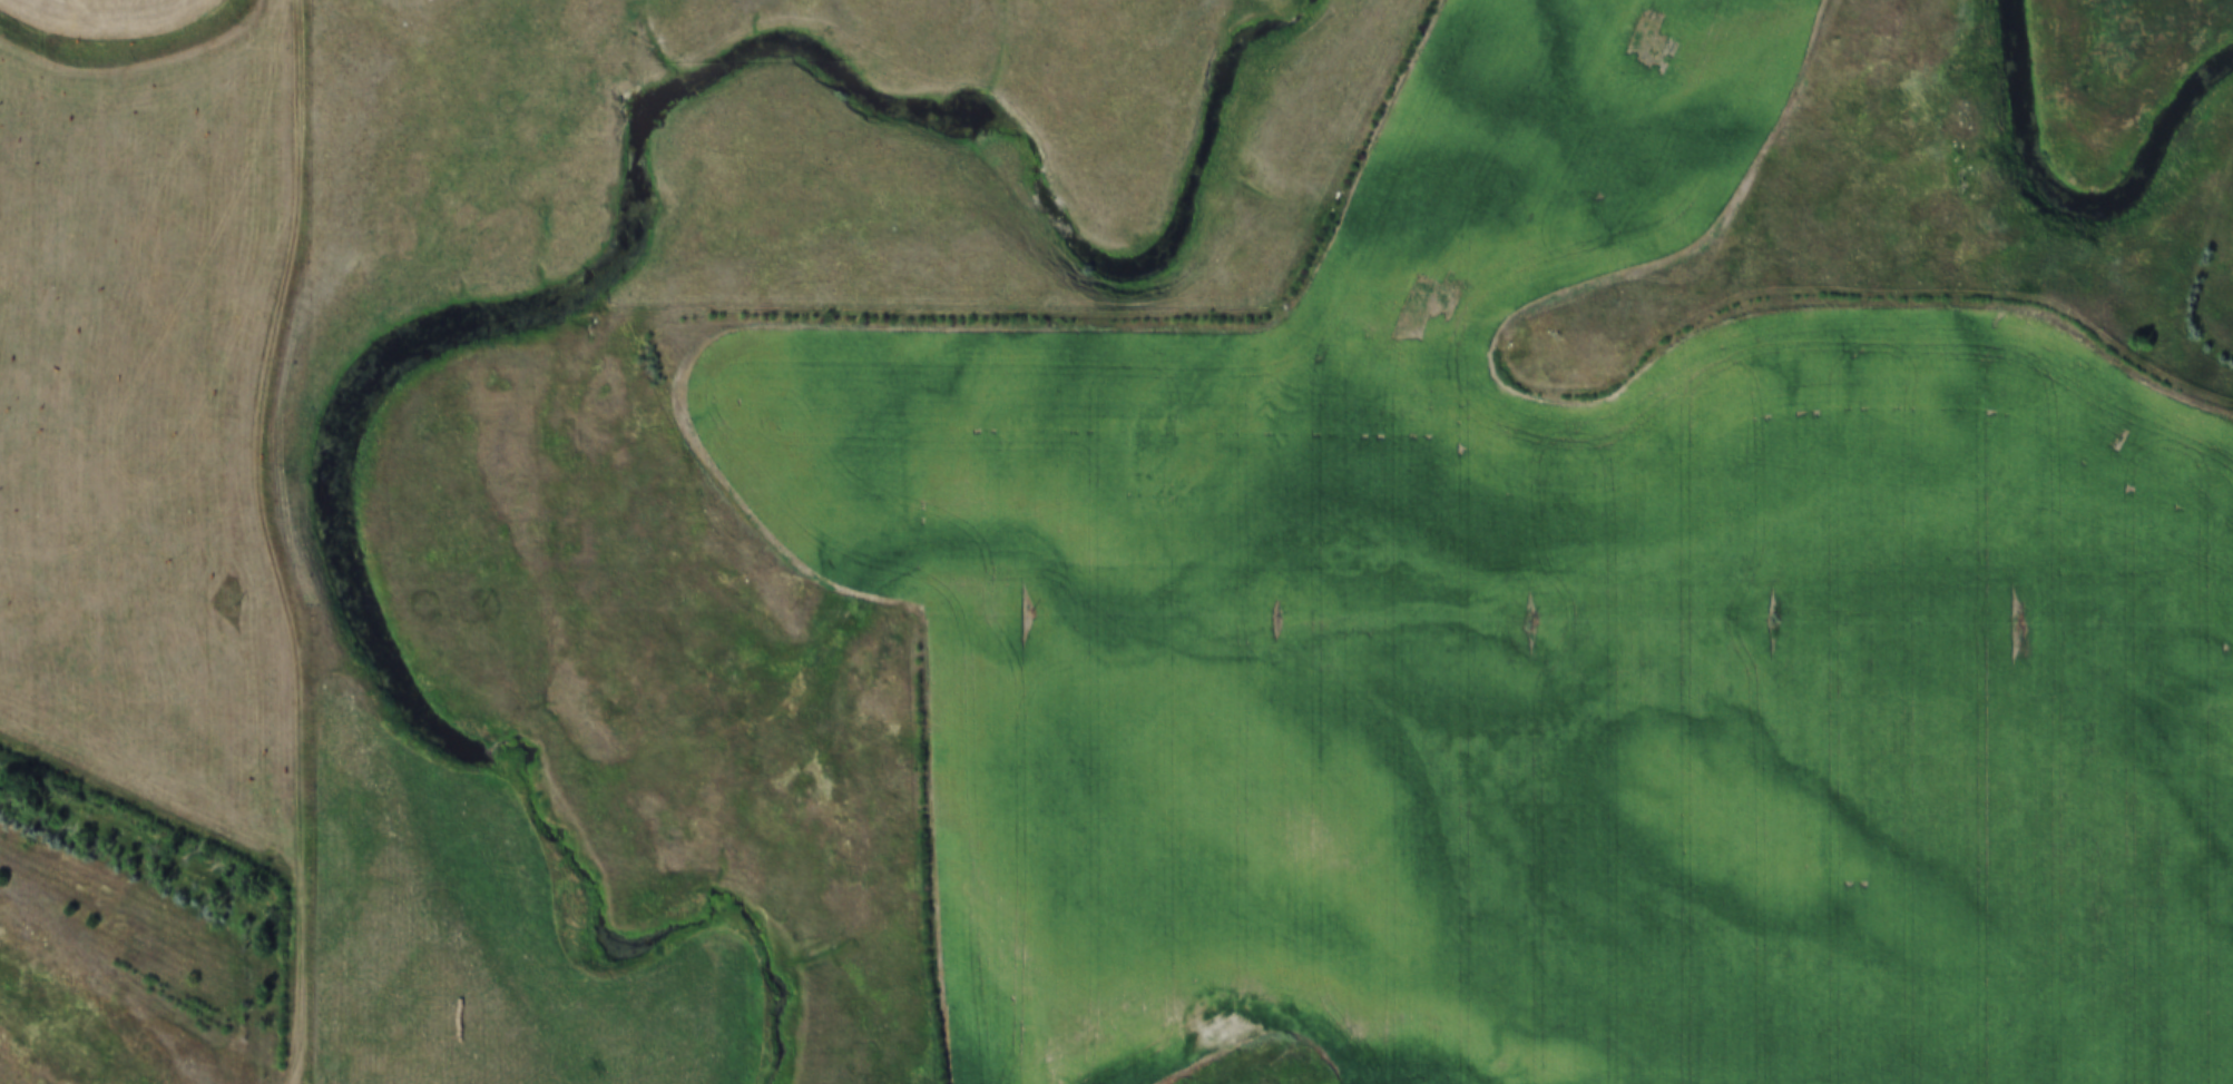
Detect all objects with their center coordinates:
road: (301, 985)

